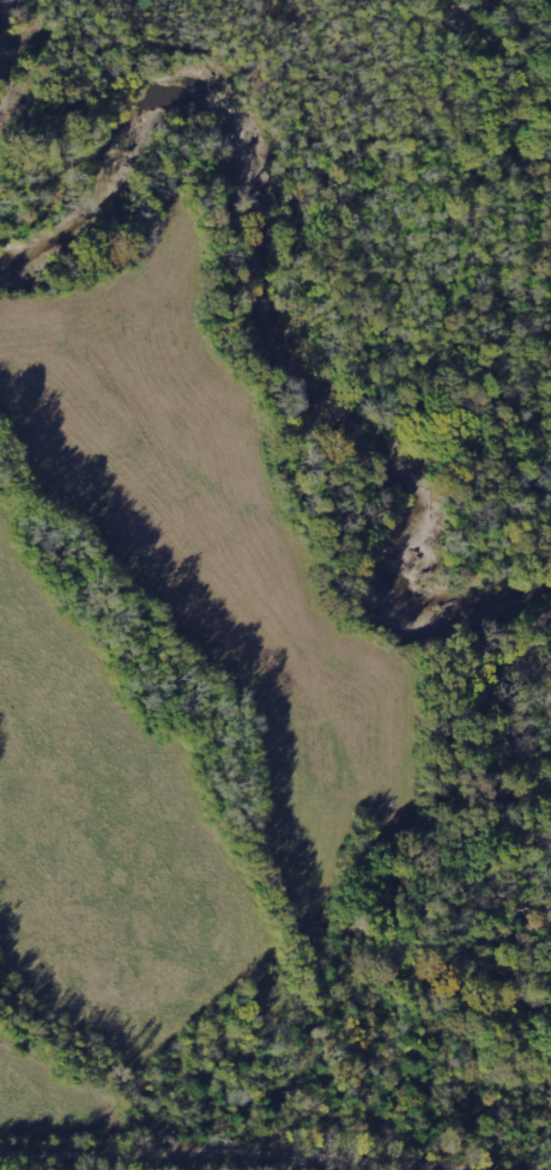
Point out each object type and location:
road: (208, 1160)

